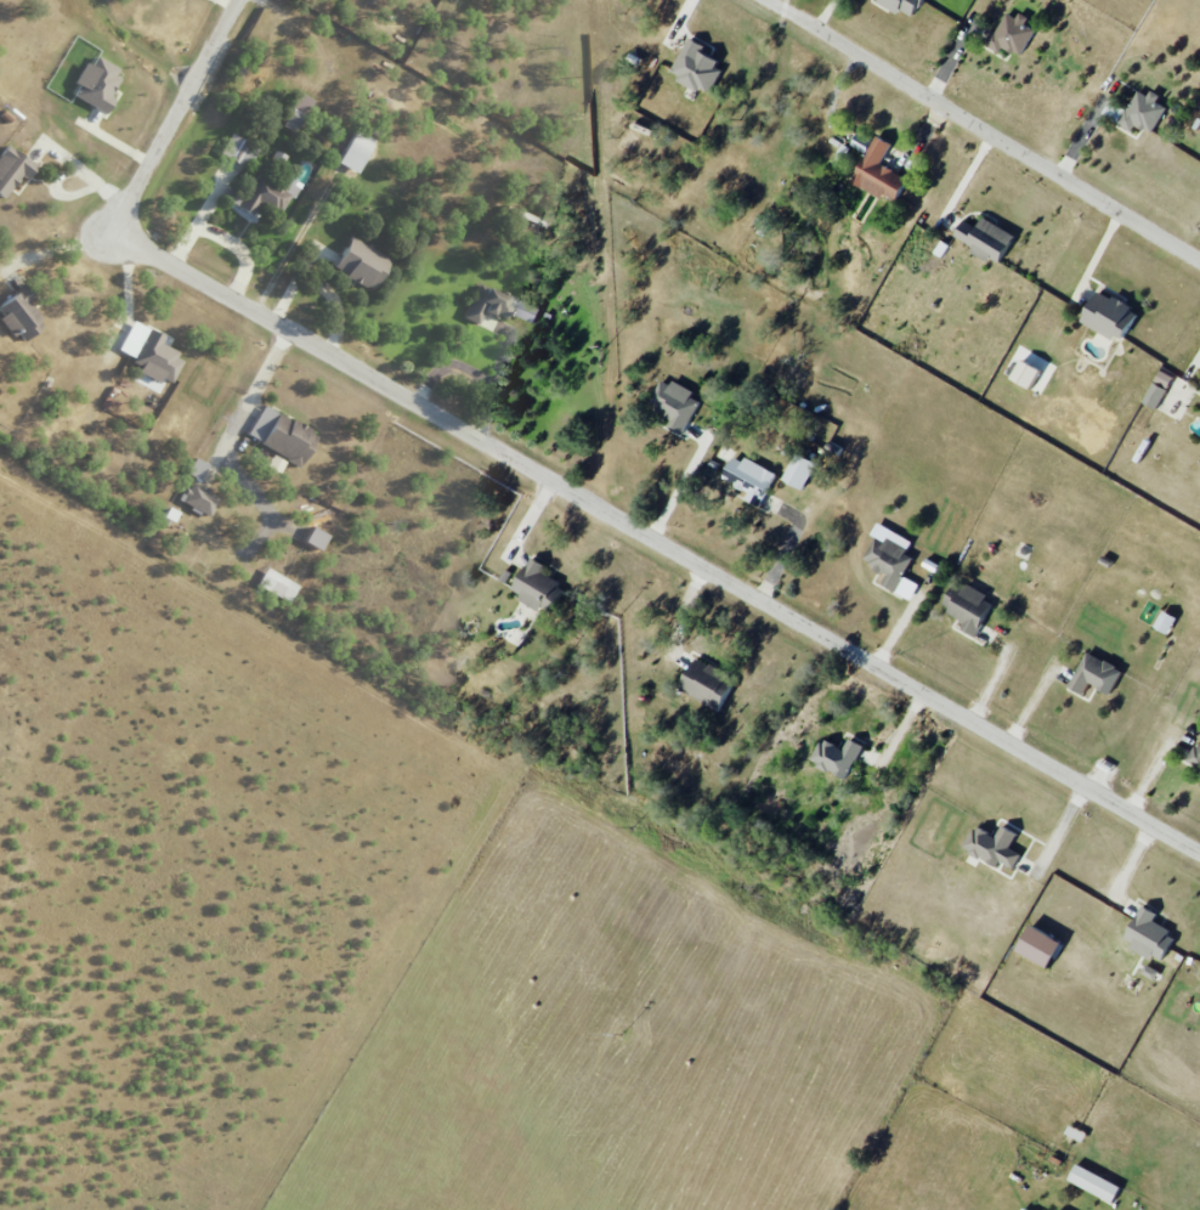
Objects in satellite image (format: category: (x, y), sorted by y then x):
building: (901, 6)
building: (1011, 33)
building: (696, 68)
power tower: (595, 75)
building: (95, 81)
building: (296, 109)
building: (1142, 112)
road: (176, 114)
road: (985, 129)
building: (860, 142)
building: (238, 151)
building: (353, 151)
building: (843, 151)
building: (11, 169)
road: (83, 170)
building: (878, 173)
road: (60, 194)
building: (984, 238)
road: (61, 249)
building: (358, 262)
building: (497, 305)
building: (19, 312)
building: (1108, 316)
power tower: (610, 347)
building: (149, 354)
road: (466, 374)
building: (1025, 374)
building: (1157, 390)
building: (1199, 396)
building: (674, 405)
road: (228, 429)
building: (279, 434)
building: (197, 468)
building: (799, 471)
building: (749, 479)
road: (678, 484)
building: (199, 498)
building: (312, 538)
road: (656, 541)
building: (889, 559)
building: (276, 584)
building: (537, 586)
building: (967, 606)
power tower: (623, 616)
building: (1164, 622)
building: (1094, 675)
building: (706, 683)
building: (1195, 756)
building: (836, 757)
power tower: (636, 827)
building: (992, 846)
building: (1147, 934)
building: (1036, 946)
building: (1149, 972)
building: (1199, 982)
power tower: (627, 1034)
building: (1093, 1183)

